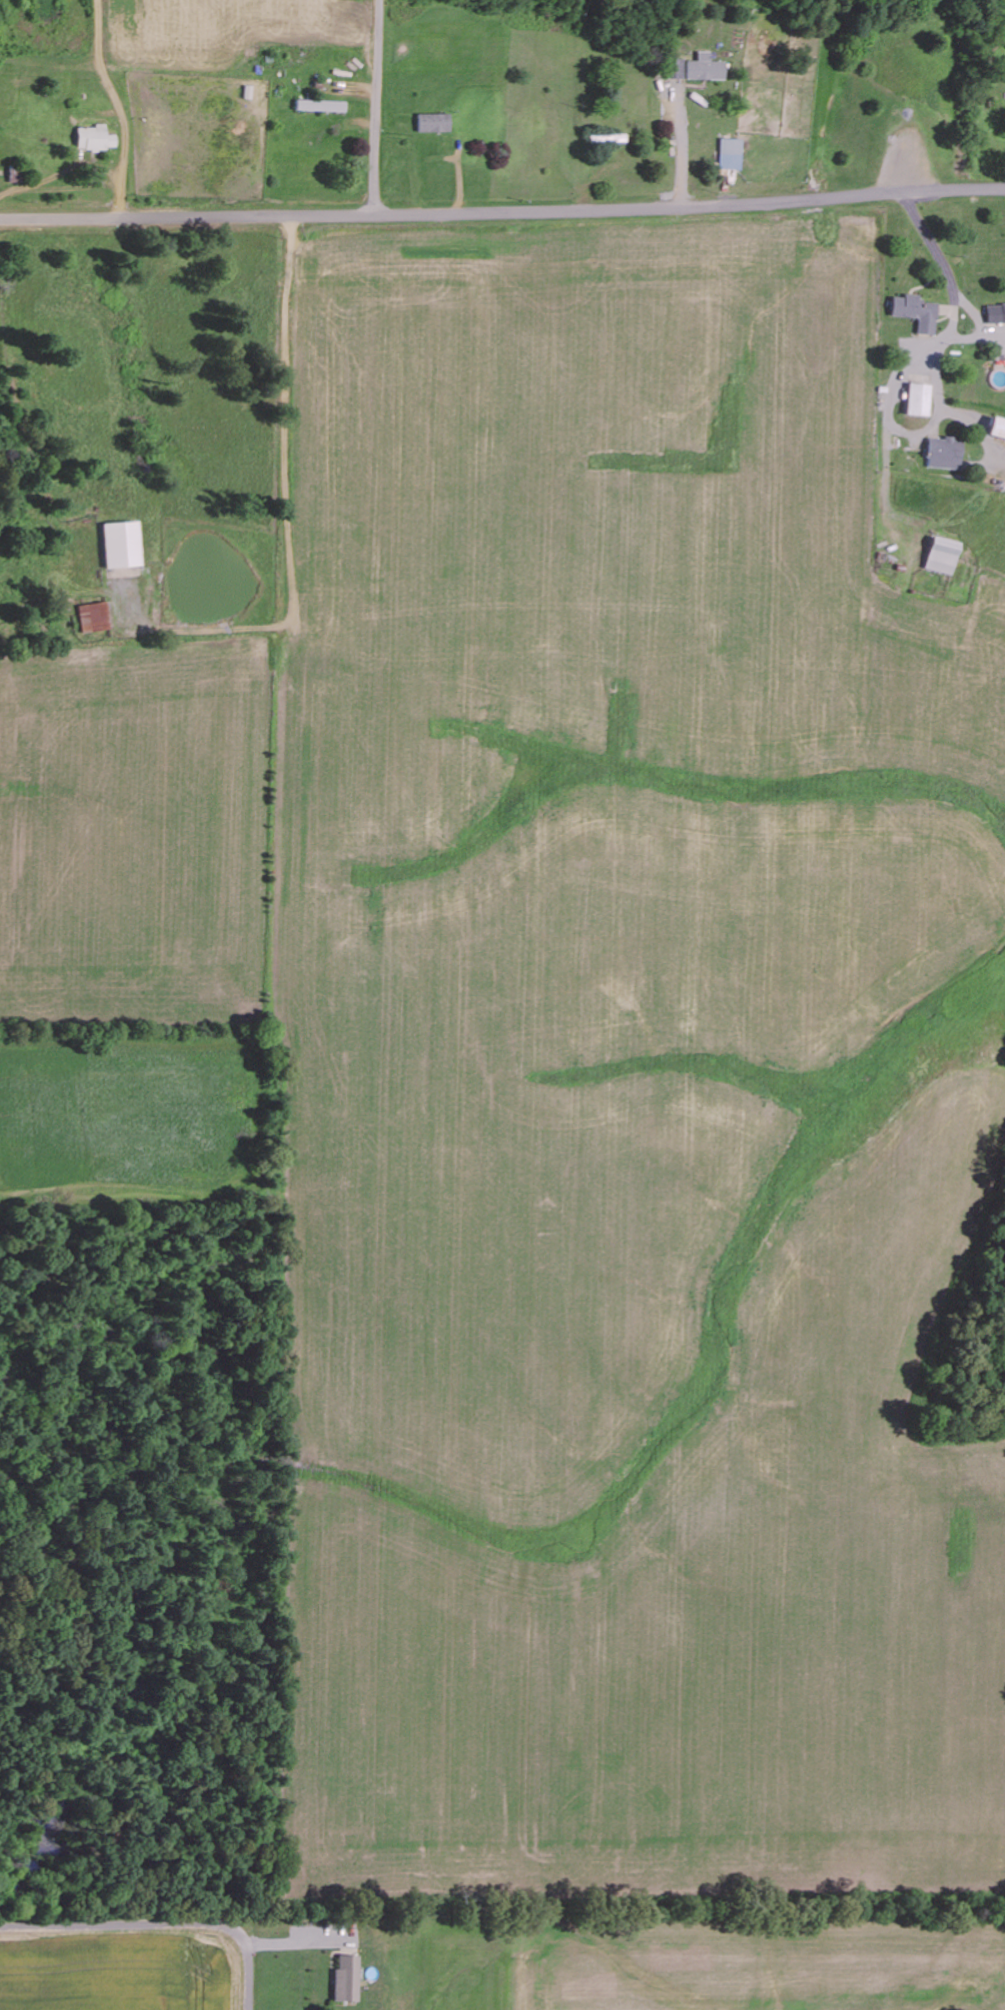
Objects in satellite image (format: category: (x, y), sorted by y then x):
building: (705, 67)
building: (674, 68)
building: (320, 105)
road: (376, 106)
building: (432, 122)
building: (94, 138)
building: (730, 153)
road: (502, 208)
building: (915, 311)
building: (995, 313)
building: (917, 399)
building: (996, 428)
building: (944, 453)
building: (119, 545)
building: (940, 555)
building: (92, 617)
road: (160, 1925)
building: (347, 1979)

